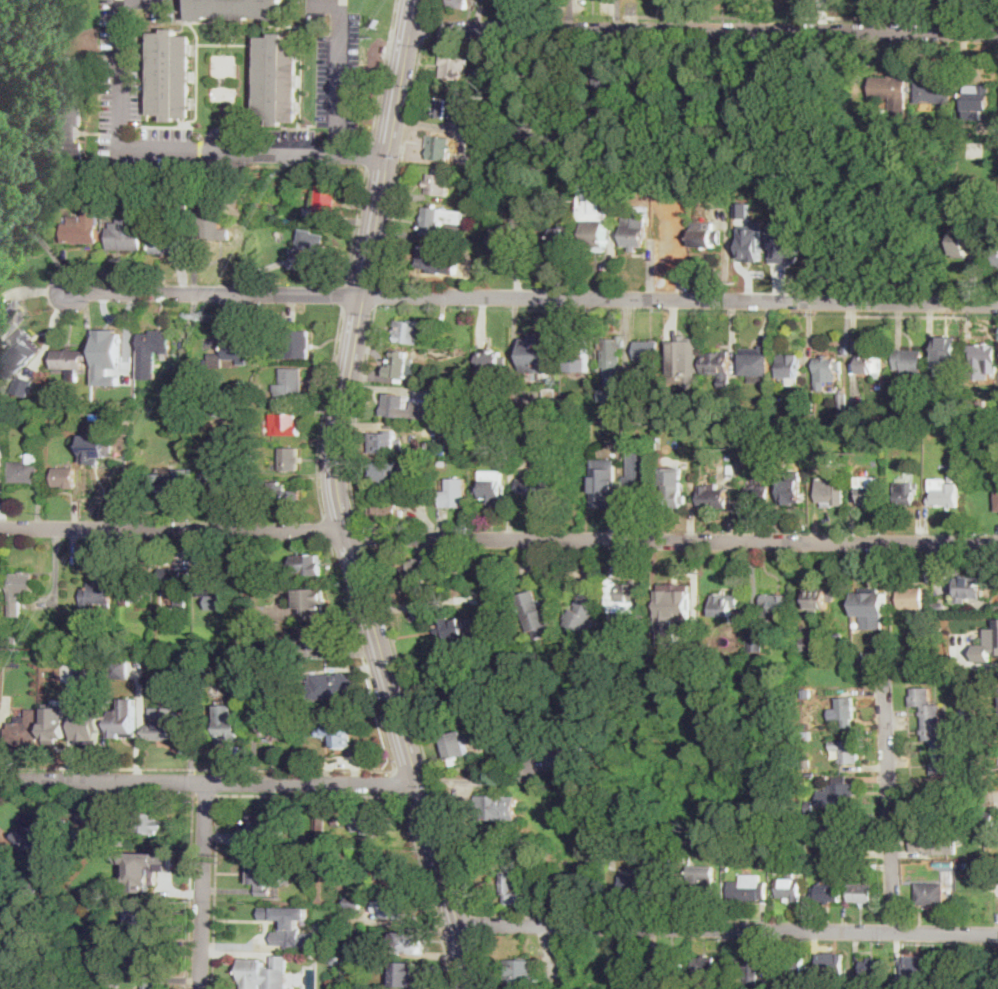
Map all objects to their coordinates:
building: (459, 4)
road: (429, 7)
building: (238, 9)
road: (679, 15)
road: (899, 16)
road: (996, 16)
road: (425, 25)
road: (703, 28)
building: (226, 36)
building: (40, 46)
road: (532, 56)
road: (340, 64)
building: (454, 65)
road: (382, 72)
building: (172, 74)
building: (279, 79)
building: (930, 92)
building: (892, 94)
building: (607, 99)
building: (655, 100)
building: (741, 101)
building: (978, 101)
building: (701, 102)
road: (121, 103)
building: (446, 107)
building: (64, 113)
building: (532, 145)
building: (440, 147)
road: (788, 152)
road: (306, 154)
road: (369, 158)
road: (401, 159)
building: (439, 182)
building: (153, 183)
building: (590, 187)
building: (325, 201)
building: (31, 203)
building: (186, 206)
building: (741, 210)
building: (439, 219)
building: (4, 226)
building: (213, 226)
road: (356, 227)
building: (632, 231)
building: (81, 234)
building: (597, 234)
building: (563, 236)
building: (707, 236)
building: (126, 238)
building: (512, 239)
building: (783, 240)
building: (751, 241)
building: (963, 243)
building: (167, 244)
building: (308, 248)
road: (56, 257)
building: (430, 257)
building: (997, 258)
road: (378, 292)
road: (344, 296)
road: (532, 298)
road: (905, 317)
power tower: (204, 318)
building: (10, 319)
building: (407, 331)
building: (157, 341)
building: (295, 344)
building: (114, 348)
building: (647, 351)
building: (235, 352)
building: (538, 354)
building: (579, 354)
building: (610, 354)
building: (7, 355)
building: (983, 356)
building: (491, 360)
building: (946, 360)
building: (71, 361)
building: (682, 361)
building: (718, 361)
building: (909, 361)
building: (759, 363)
building: (400, 364)
building: (869, 364)
building: (130, 365)
building: (789, 366)
building: (826, 372)
building: (793, 381)
building: (23, 385)
building: (291, 385)
building: (131, 386)
building: (143, 388)
building: (46, 390)
building: (551, 395)
building: (613, 395)
building: (7, 397)
building: (919, 398)
building: (842, 399)
building: (979, 407)
building: (405, 408)
building: (93, 412)
building: (203, 412)
road: (323, 412)
building: (637, 412)
building: (872, 412)
building: (218, 413)
road: (356, 415)
building: (613, 415)
building: (807, 419)
building: (942, 421)
building: (285, 423)
building: (856, 433)
building: (896, 441)
building: (389, 443)
building: (504, 443)
building: (100, 446)
building: (454, 446)
building: (291, 458)
building: (443, 462)
building: (244, 465)
building: (26, 469)
building: (387, 472)
building: (638, 475)
building: (66, 476)
building: (3, 478)
building: (214, 478)
building: (604, 481)
building: (169, 485)
building: (491, 485)
building: (537, 488)
building: (790, 491)
building: (457, 492)
building: (831, 493)
building: (945, 493)
building: (905, 494)
building: (673, 495)
building: (868, 495)
building: (715, 496)
building: (757, 496)
building: (263, 497)
building: (286, 497)
road: (340, 499)
building: (997, 499)
building: (386, 509)
road: (325, 529)
road: (363, 537)
road: (498, 538)
building: (306, 566)
building: (414, 571)
building: (176, 582)
building: (1, 583)
building: (215, 586)
building: (136, 589)
building: (970, 589)
building: (20, 591)
building: (98, 596)
building: (675, 596)
building: (626, 597)
building: (312, 599)
building: (818, 599)
building: (912, 599)
building: (870, 602)
building: (725, 603)
building: (776, 605)
building: (939, 608)
building: (119, 609)
building: (583, 613)
building: (533, 614)
building: (183, 618)
building: (996, 621)
building: (675, 625)
building: (451, 628)
building: (318, 636)
building: (13, 640)
power tower: (32, 641)
building: (756, 642)
building: (808, 644)
road: (363, 654)
building: (861, 655)
building: (258, 669)
building: (121, 670)
building: (85, 676)
building: (74, 687)
building: (332, 687)
building: (241, 689)
building: (453, 690)
building: (261, 691)
building: (181, 696)
building: (302, 704)
building: (844, 711)
building: (965, 716)
building: (126, 720)
building: (974, 721)
building: (56, 723)
building: (163, 724)
building: (89, 726)
building: (70, 727)
building: (26, 728)
building: (275, 728)
building: (230, 729)
road: (419, 730)
building: (934, 730)
building: (341, 731)
building: (807, 734)
building: (457, 746)
building: (848, 751)
building: (568, 752)
building: (807, 762)
road: (888, 767)
road: (197, 770)
building: (811, 774)
road: (488, 780)
road: (399, 782)
road: (209, 784)
building: (979, 786)
building: (838, 794)
road: (194, 795)
road: (207, 795)
road: (311, 796)
building: (810, 805)
building: (497, 808)
building: (86, 813)
building: (104, 817)
building: (987, 818)
building: (370, 819)
building: (811, 819)
building: (338, 820)
building: (149, 823)
building: (322, 824)
building: (265, 829)
building: (969, 832)
building: (993, 836)
building: (53, 838)
building: (847, 839)
building: (931, 841)
building: (784, 861)
building: (540, 862)
building: (718, 862)
building: (847, 862)
building: (762, 863)
building: (824, 863)
building: (944, 864)
building: (147, 865)
building: (613, 865)
building: (387, 866)
building: (873, 866)
building: (263, 875)
building: (347, 881)
building: (516, 881)
building: (699, 885)
road: (202, 887)
building: (635, 888)
building: (748, 888)
building: (790, 888)
road: (429, 891)
building: (25, 892)
road: (216, 892)
building: (827, 893)
building: (931, 893)
building: (863, 894)
building: (354, 901)
building: (0, 908)
building: (396, 909)
building: (143, 917)
road: (472, 923)
building: (290, 926)
road: (726, 927)
building: (337, 928)
building: (408, 942)
building: (145, 948)
building: (352, 948)
building: (4, 956)
building: (347, 958)
road: (480, 961)
building: (91, 963)
building: (623, 964)
building: (671, 965)
building: (706, 966)
building: (834, 966)
building: (747, 967)
building: (792, 967)
building: (522, 970)
building: (871, 970)
building: (916, 970)
building: (251, 973)
building: (0, 974)
building: (406, 974)
building: (647, 980)
building: (45, 981)
building: (17, 985)
building: (91, 985)
building: (150, 985)
building: (920, 986)
building: (29, 988)
building: (849, 988)

